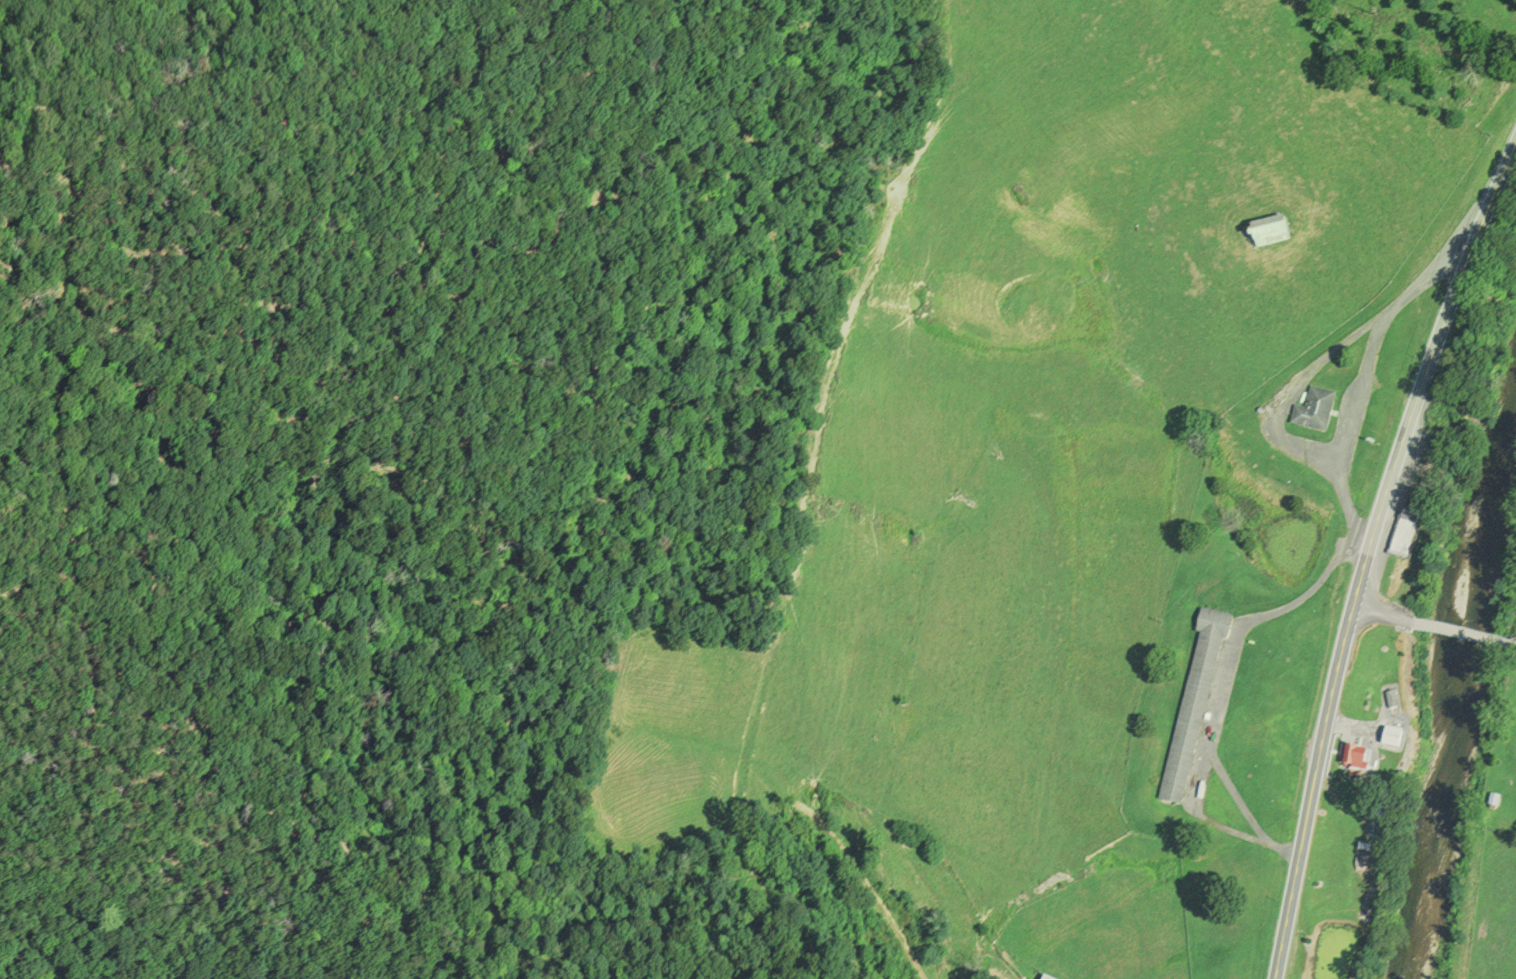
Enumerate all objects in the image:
building: (1305, 1)
building: (1273, 234)
road: (1361, 376)
road: (1289, 392)
building: (1317, 412)
building: (1410, 534)
road: (1368, 557)
road: (1383, 618)
road: (1454, 635)
road: (1505, 647)
road: (1224, 681)
building: (1396, 690)
building: (1396, 700)
building: (1196, 705)
river: (1462, 712)
building: (1402, 728)
building: (1398, 738)
building: (1357, 758)
building: (1496, 802)
building: (1381, 830)
crop: (1493, 911)
building: (1047, 978)

